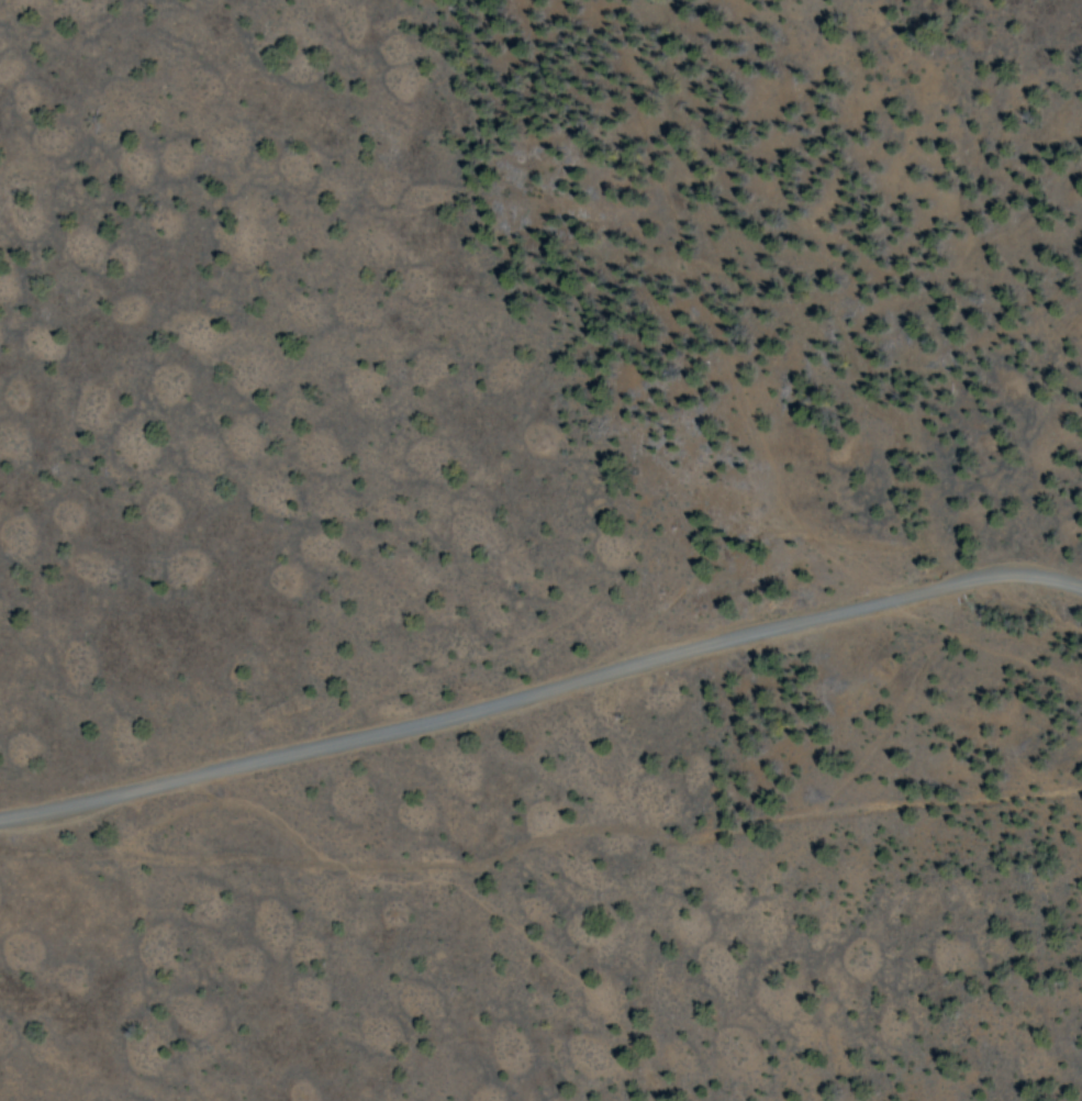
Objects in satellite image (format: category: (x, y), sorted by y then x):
road: (539, 696)

